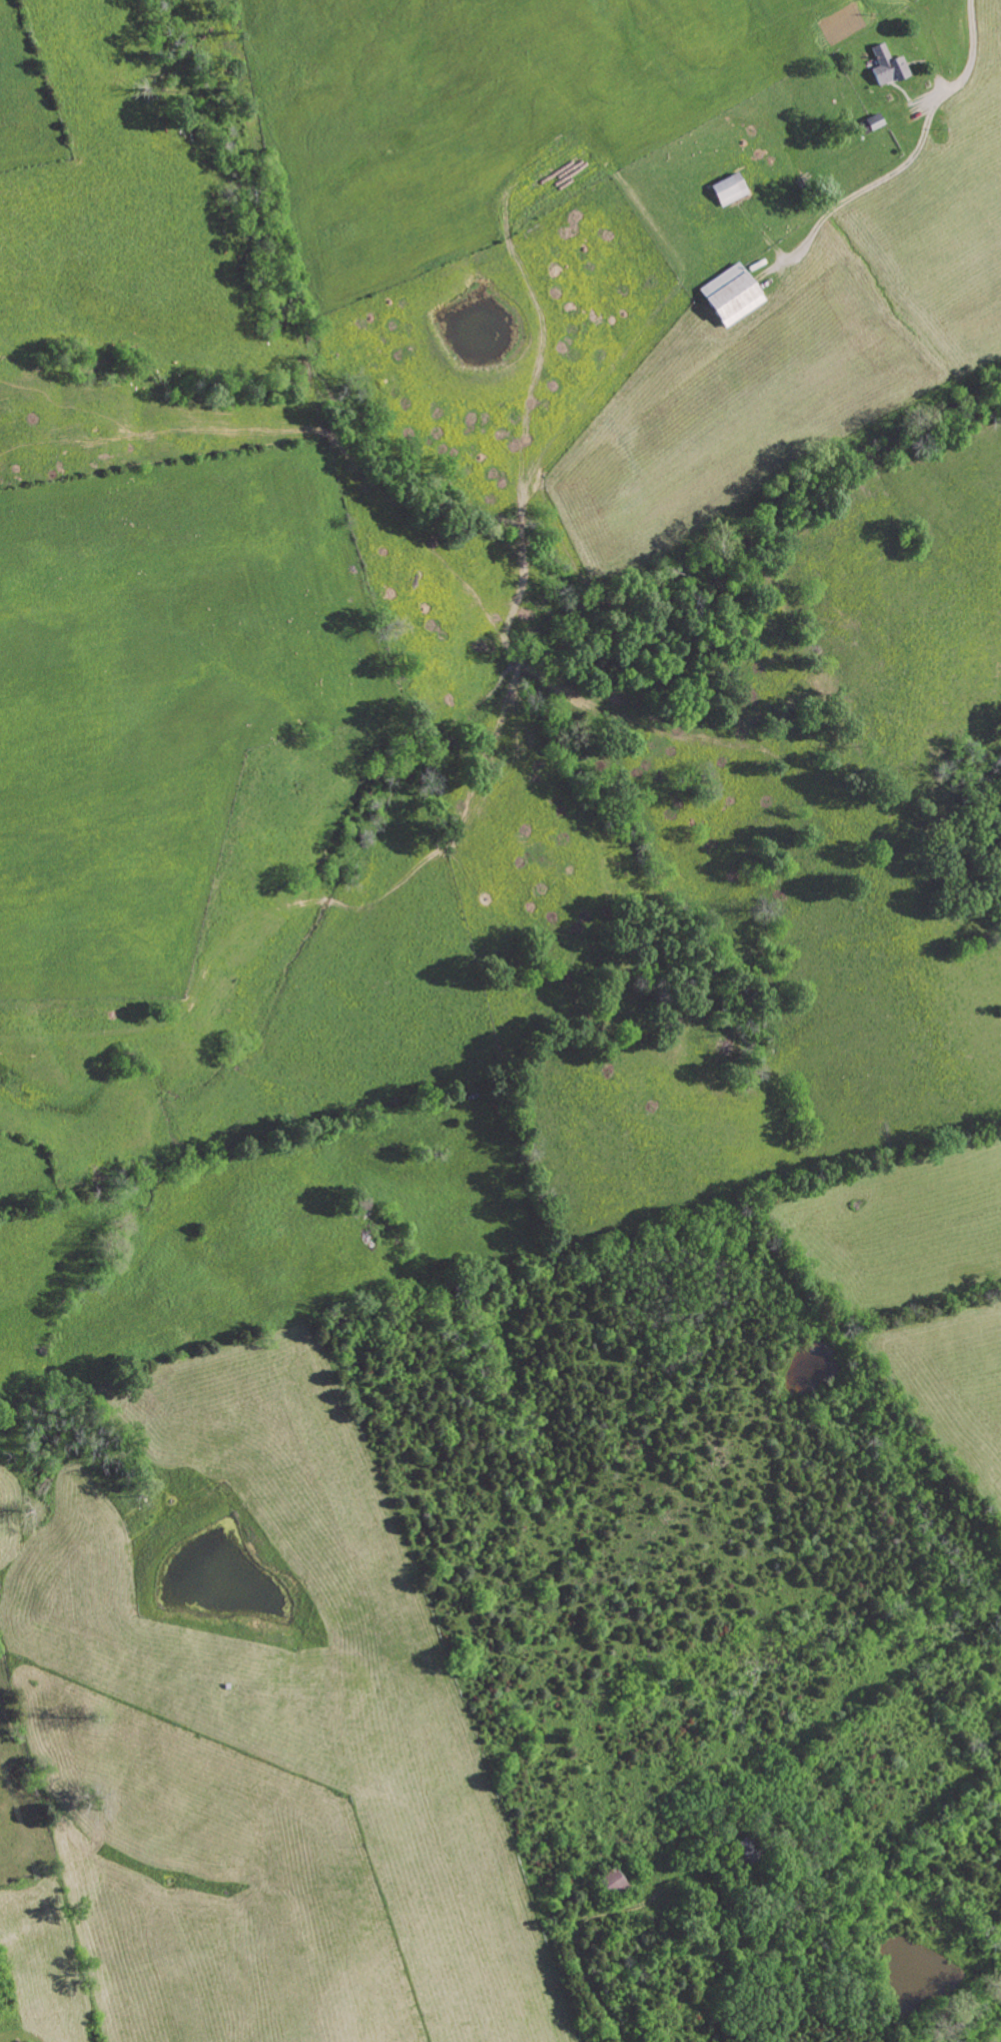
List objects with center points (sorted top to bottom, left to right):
building: (887, 67)
building: (870, 125)
building: (727, 190)
building: (728, 296)
building: (744, 1851)

